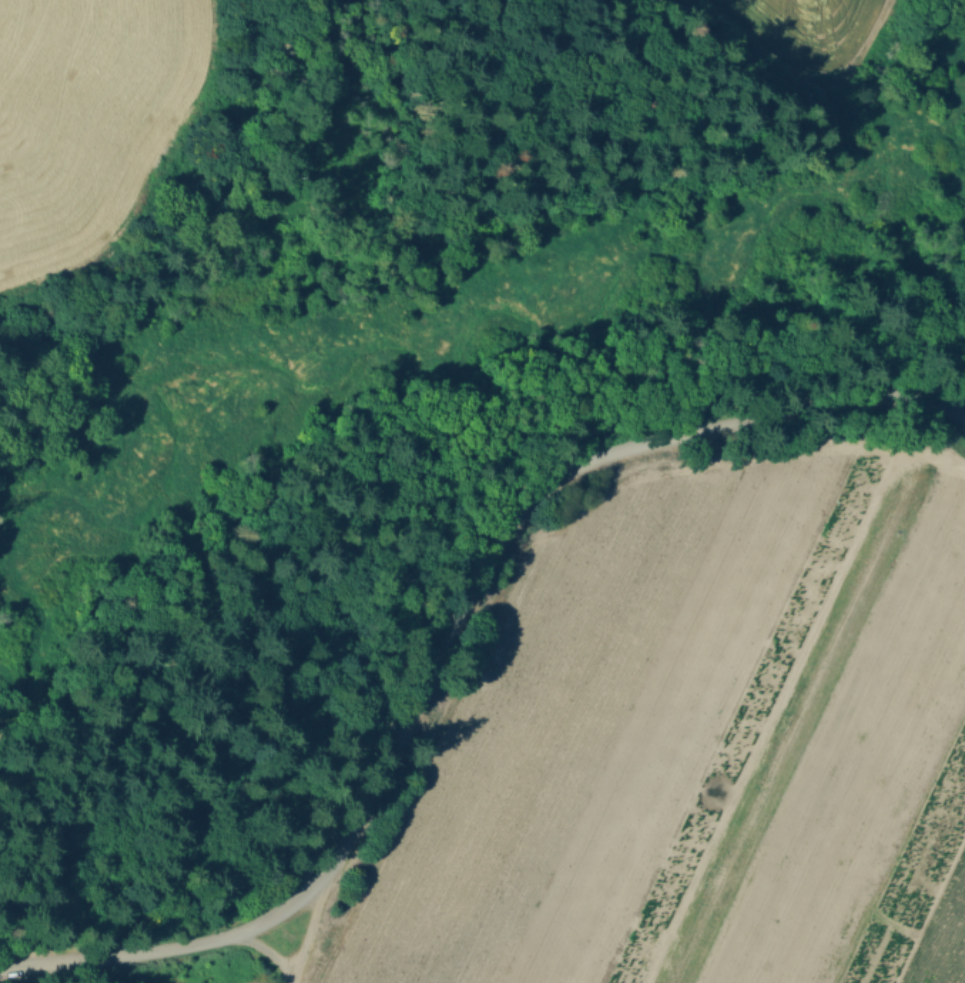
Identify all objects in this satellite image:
crop: (824, 28)
crop: (82, 109)
road: (446, 629)
crop: (689, 753)
road: (310, 927)
road: (268, 953)

